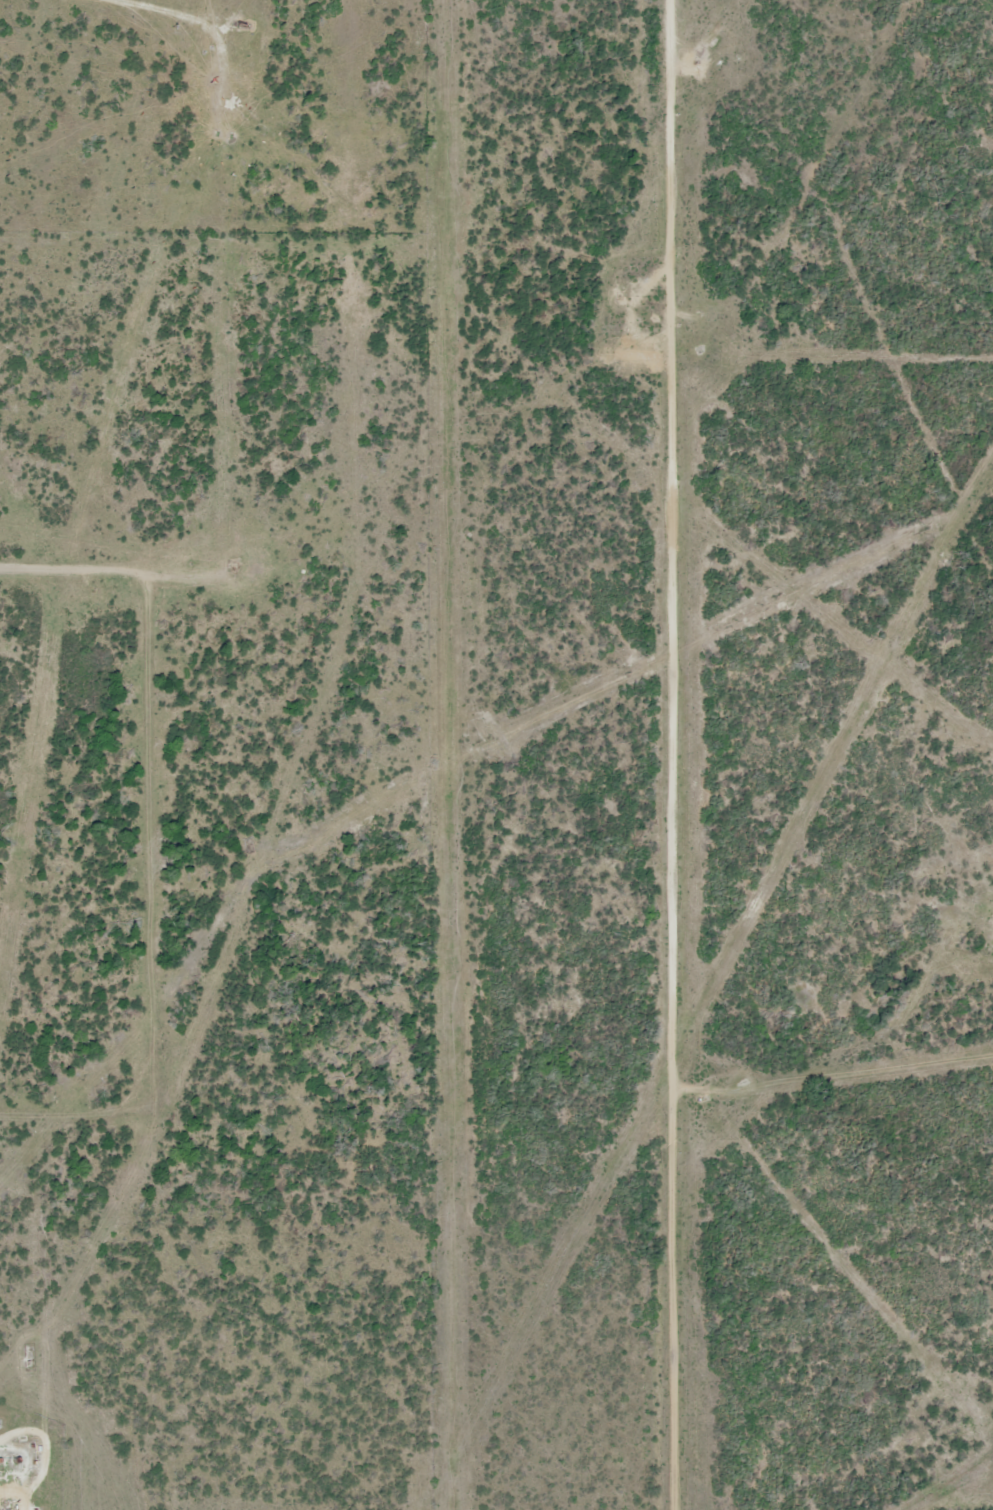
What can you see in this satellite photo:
road: (671, 755)
road: (140, 852)
road: (21, 1327)

